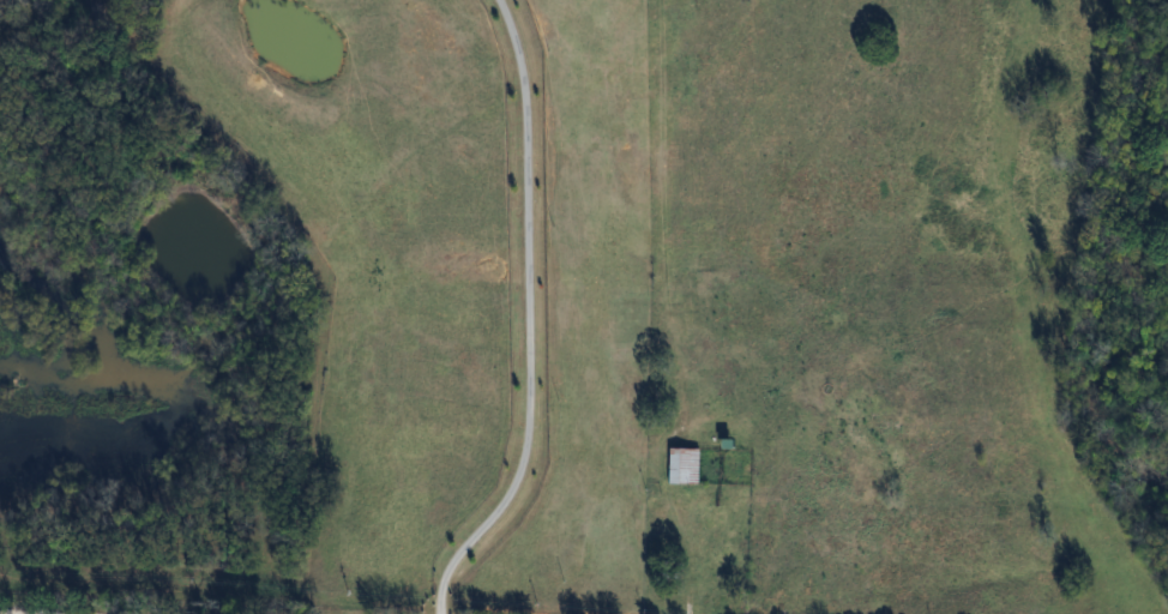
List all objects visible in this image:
road: (531, 319)
building: (681, 465)
road: (4, 613)

